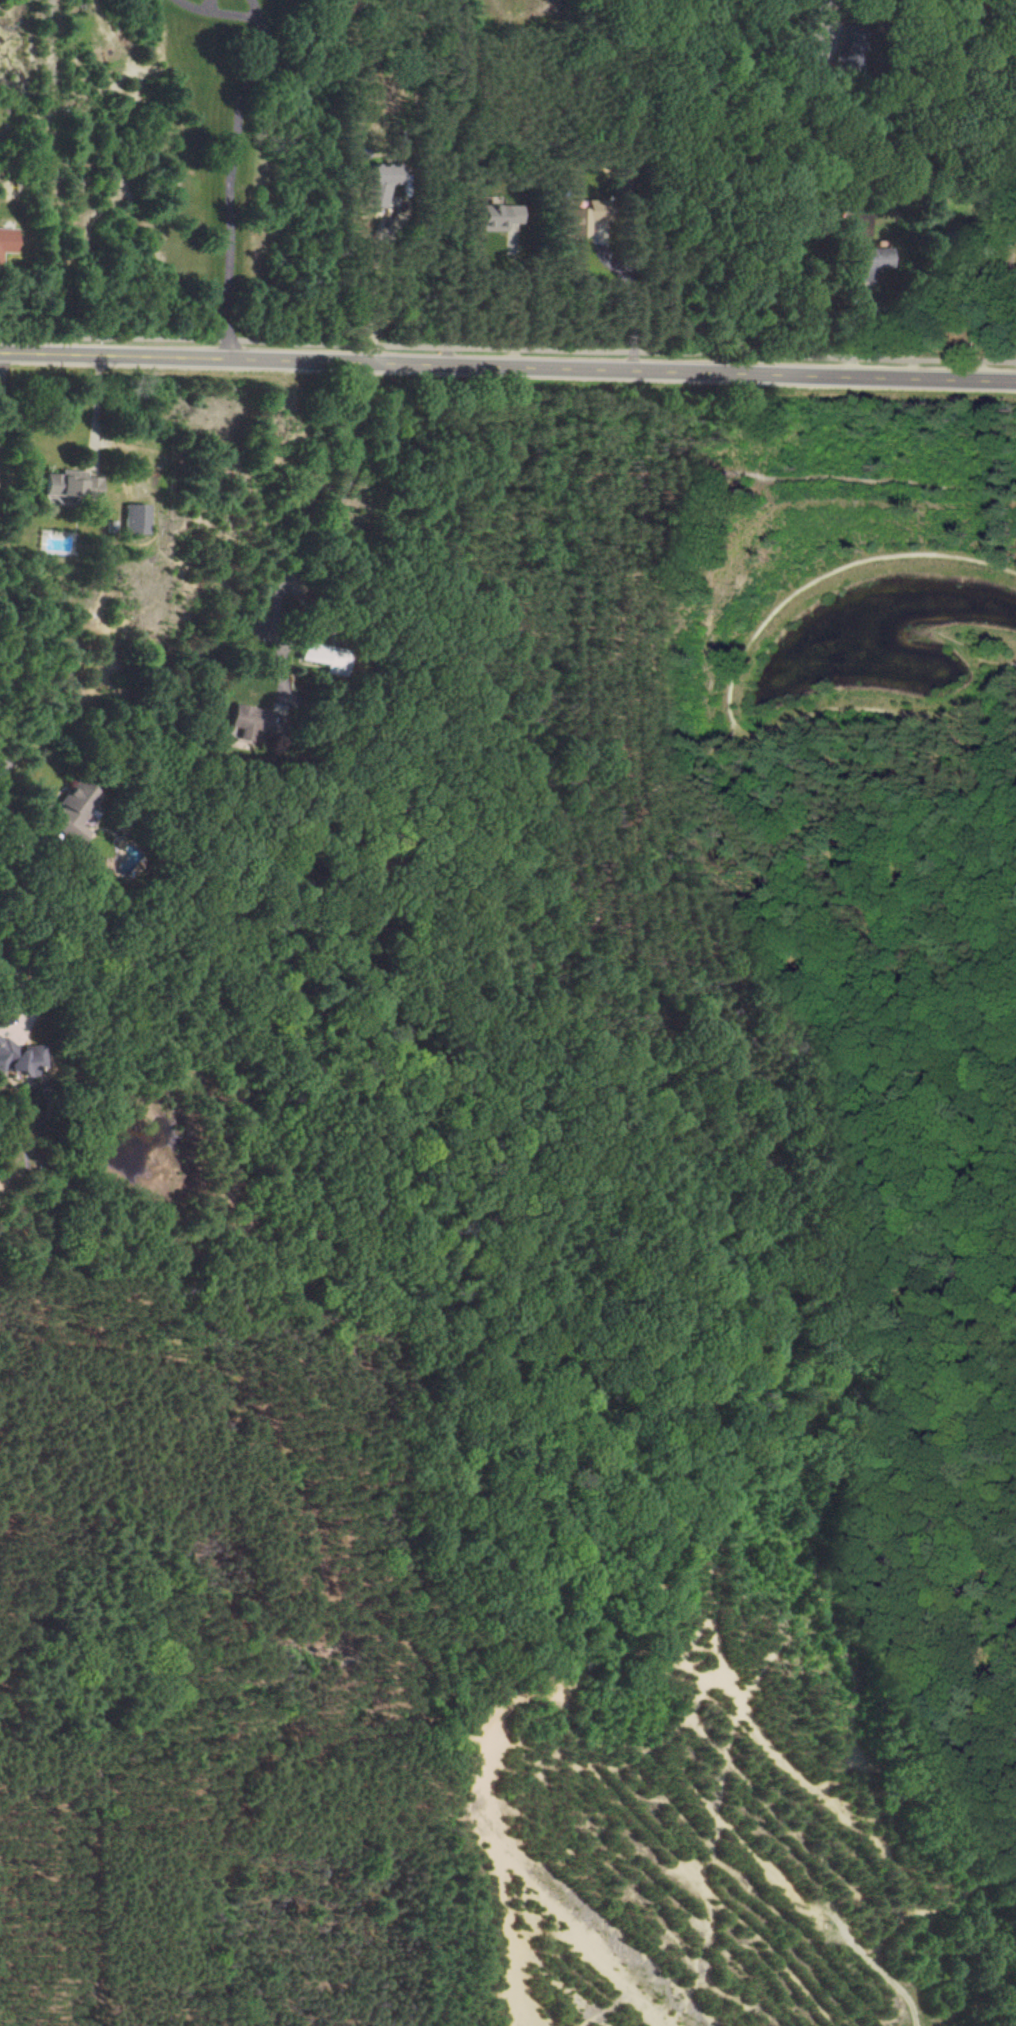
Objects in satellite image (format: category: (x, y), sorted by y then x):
road: (1008, 20)
road: (811, 104)
road: (241, 146)
road: (444, 183)
building: (378, 186)
building: (496, 217)
building: (580, 219)
building: (4, 240)
building: (871, 262)
road: (727, 278)
road: (373, 285)
road: (631, 310)
road: (508, 350)
road: (507, 371)
road: (1, 383)
building: (66, 485)
building: (132, 519)
road: (317, 530)
road: (995, 542)
road: (810, 581)
road: (587, 597)
building: (321, 657)
road: (1, 709)
road: (880, 747)
road: (996, 803)
building: (69, 813)
road: (983, 908)
road: (623, 913)
road: (21, 972)
road: (947, 1002)
road: (733, 1053)
building: (19, 1059)
road: (997, 1082)
park: (592, 1300)
road: (758, 1324)
road: (938, 1331)
road: (821, 1351)
road: (371, 1415)
road: (433, 1452)
road: (521, 1585)
road: (661, 1590)
road: (145, 1685)
road: (45, 1707)
road: (950, 1708)
road: (450, 1838)
road: (880, 1964)

